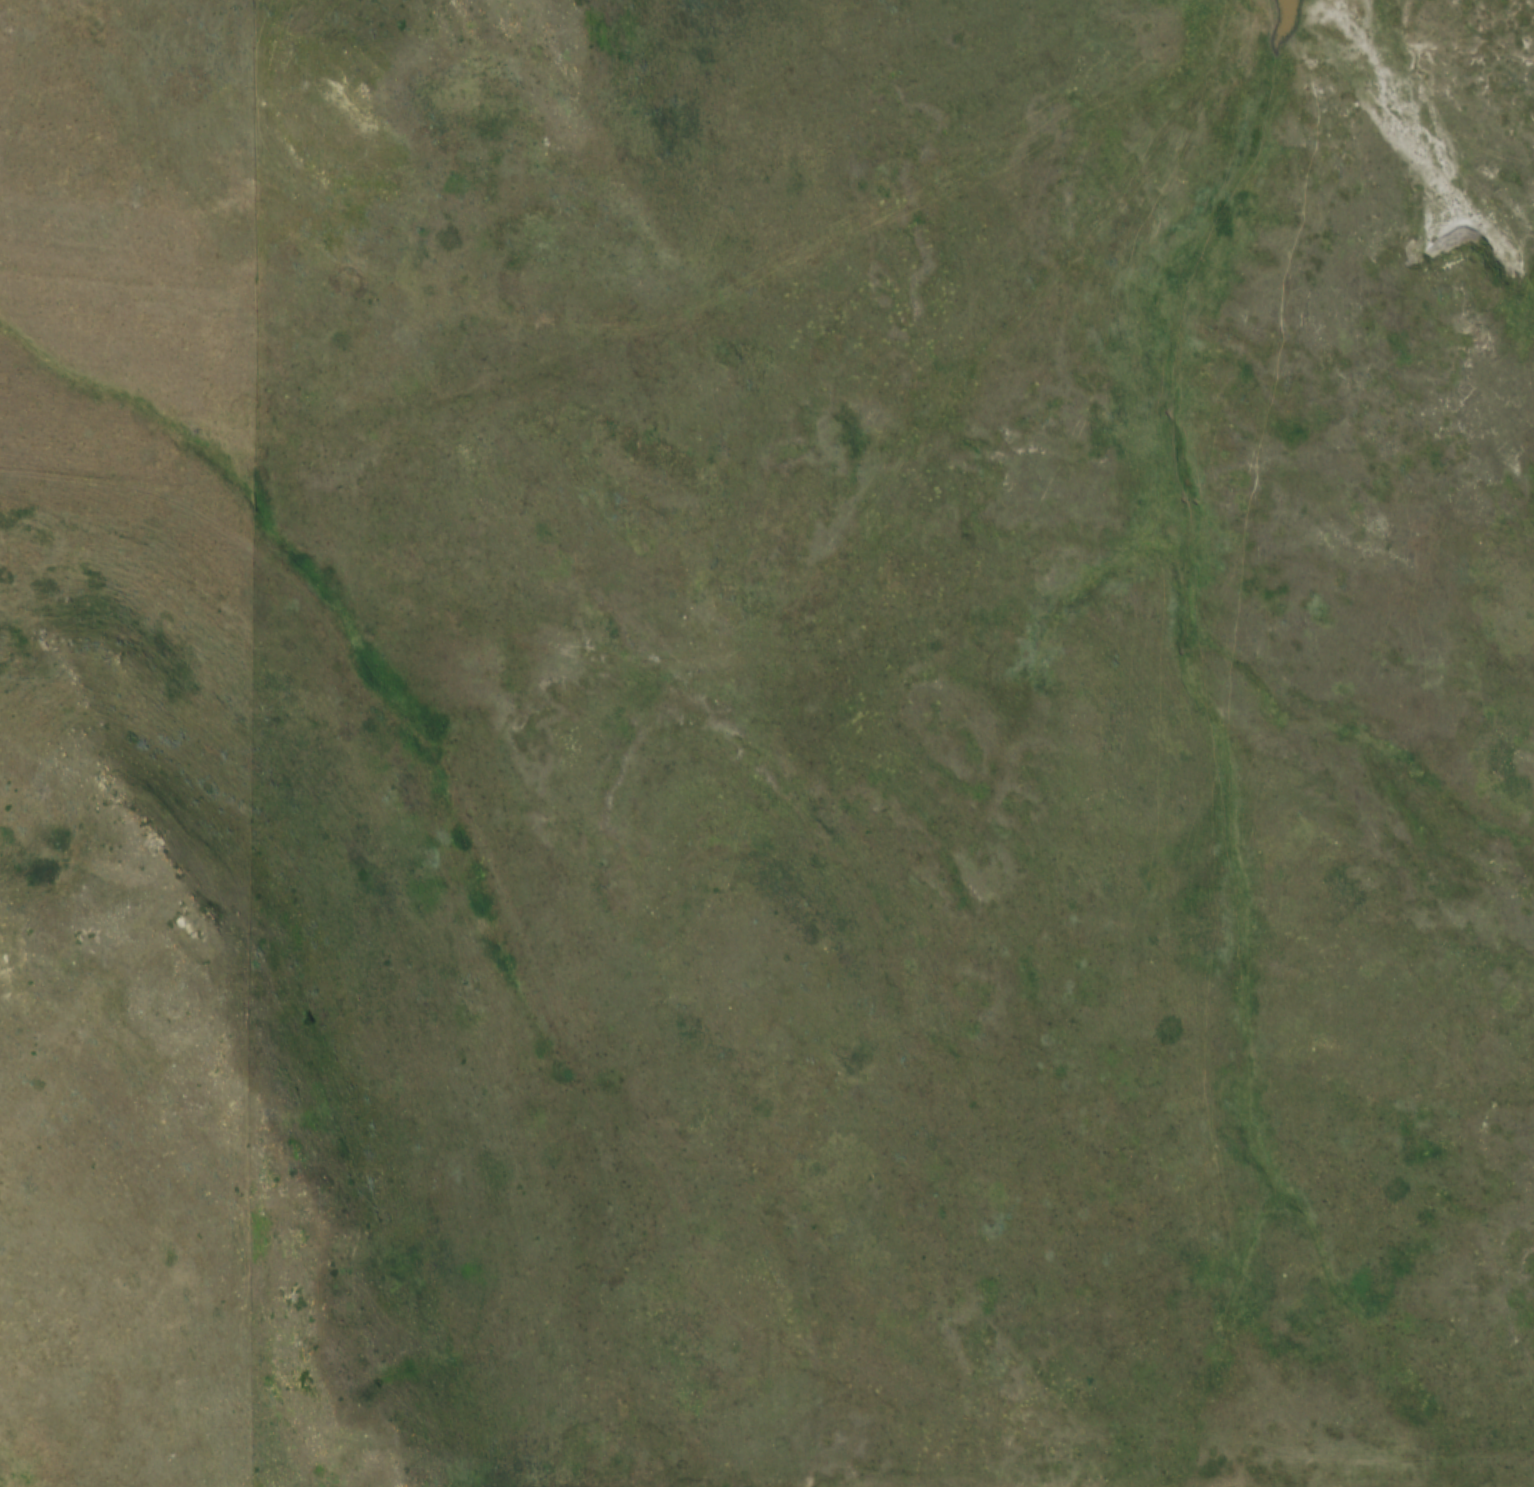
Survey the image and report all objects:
road: (637, 1122)

